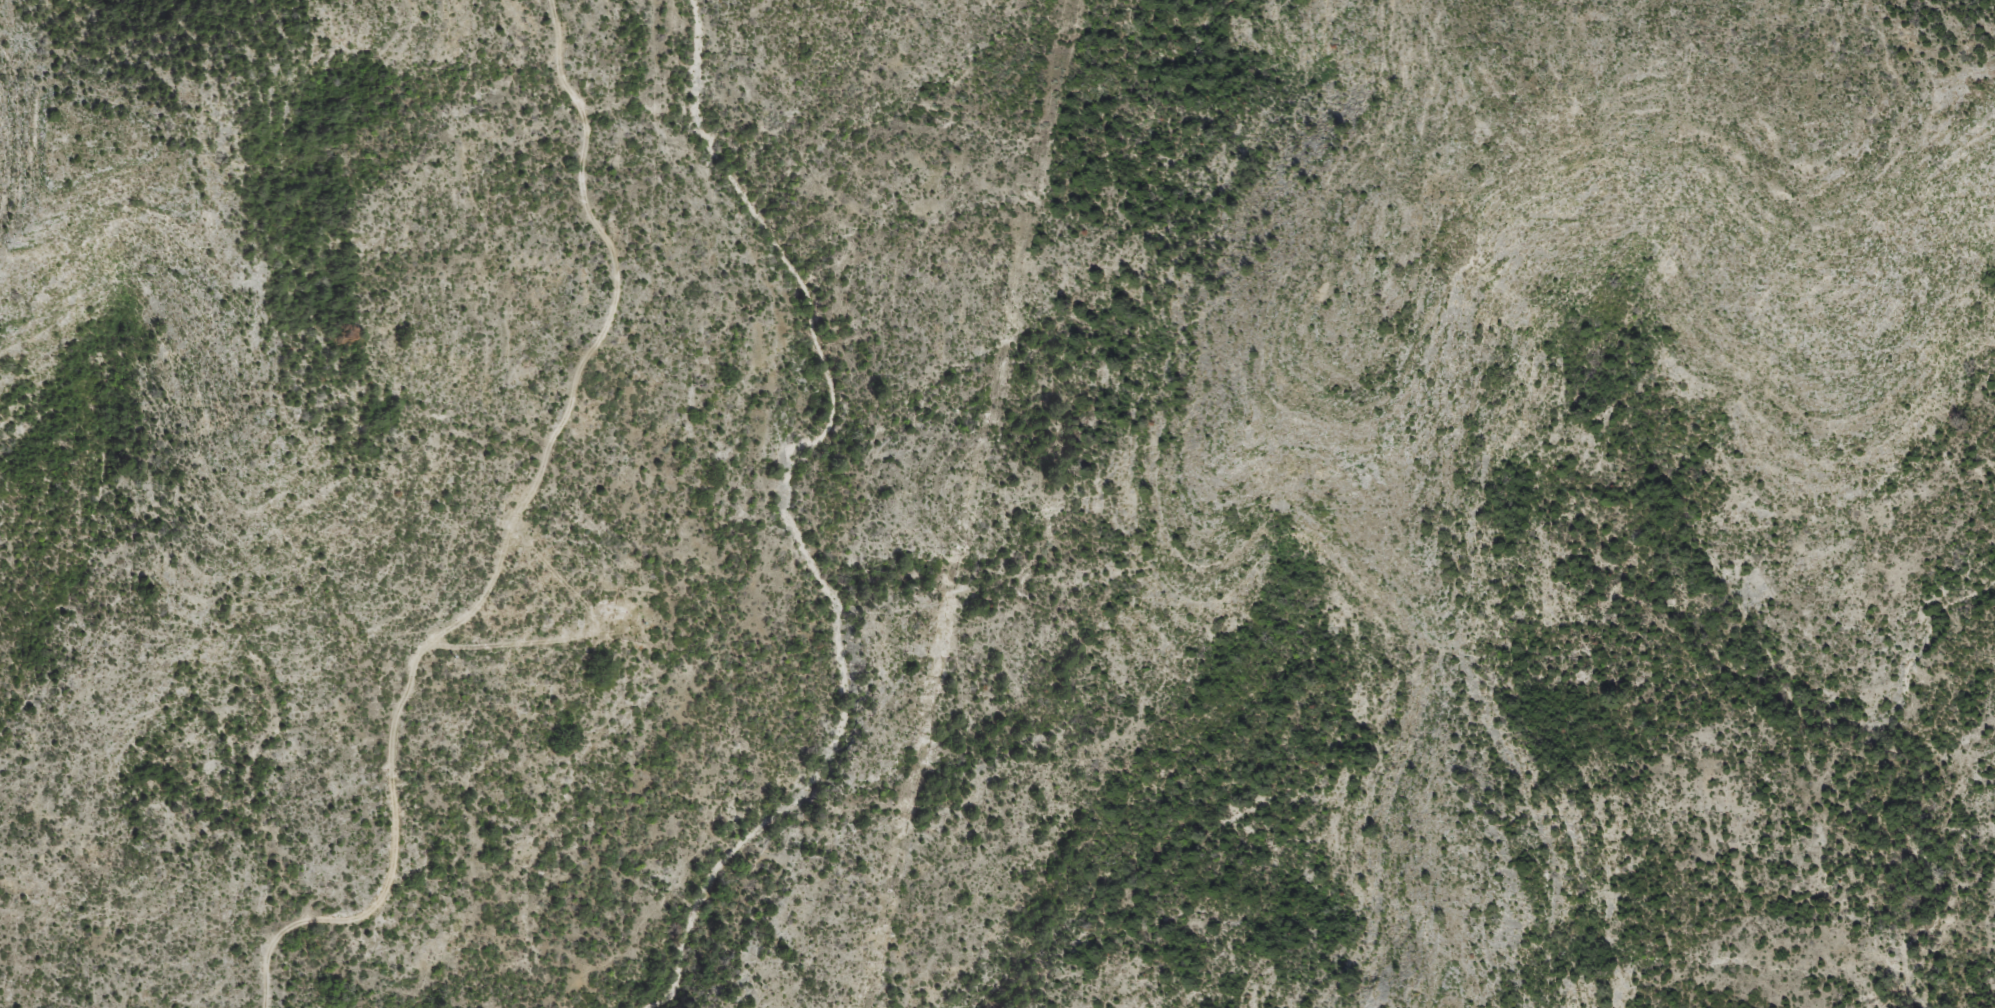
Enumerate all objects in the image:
road: (511, 546)

